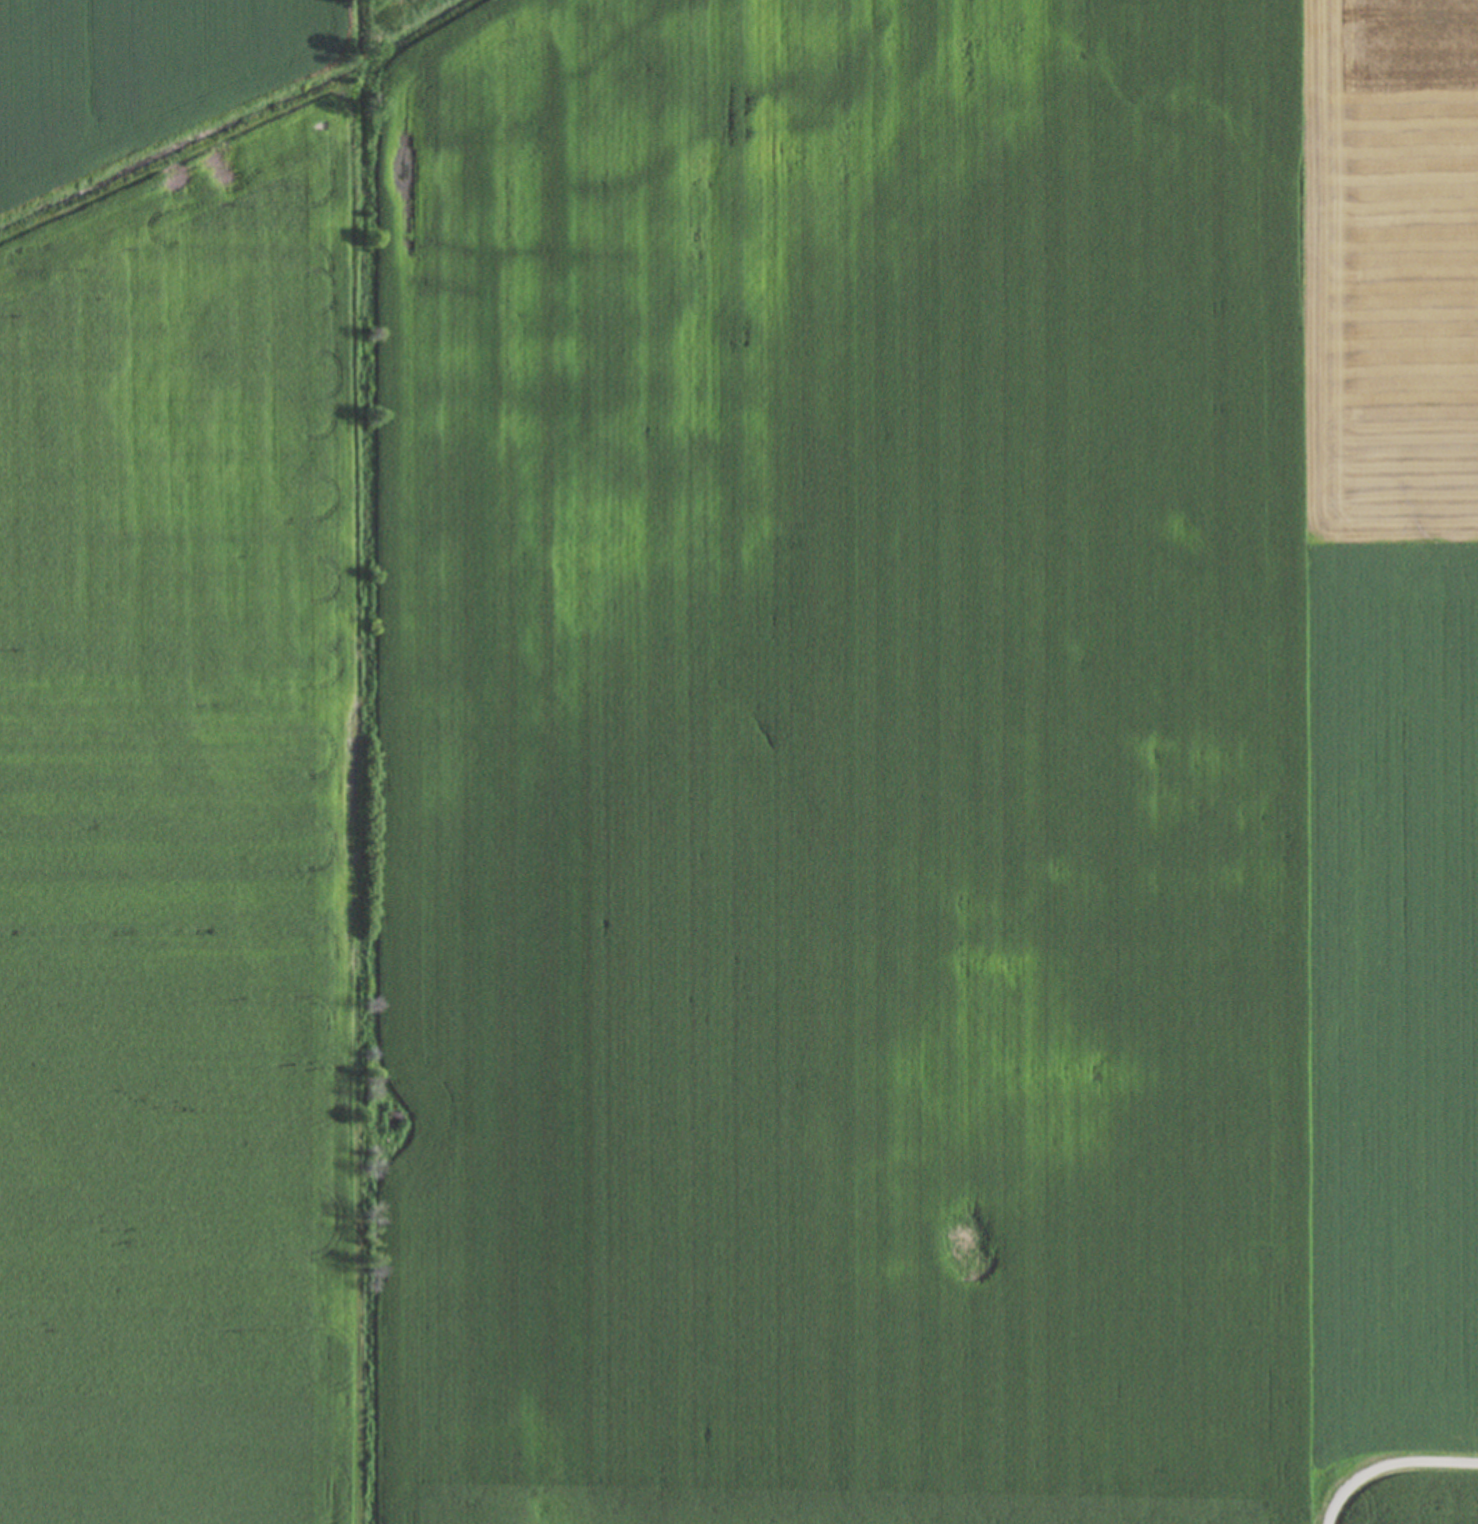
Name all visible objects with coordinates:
road: (1391, 1480)

